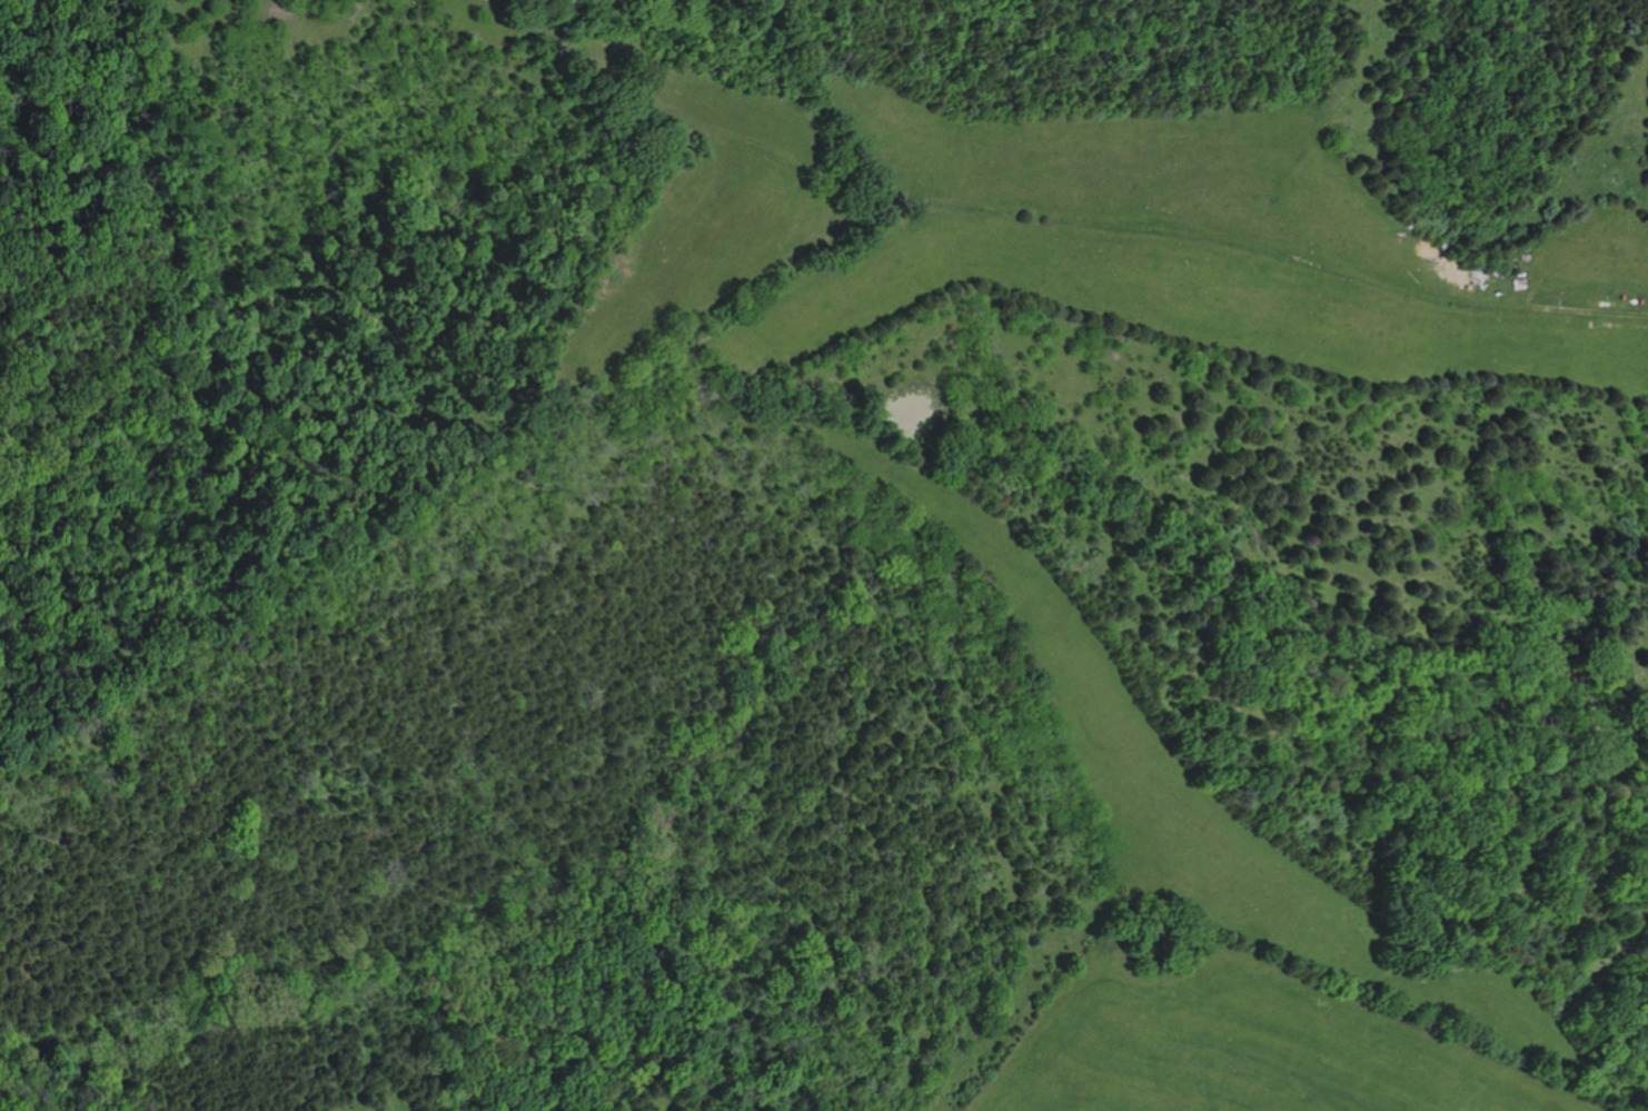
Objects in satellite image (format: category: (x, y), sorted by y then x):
road: (1250, 252)

